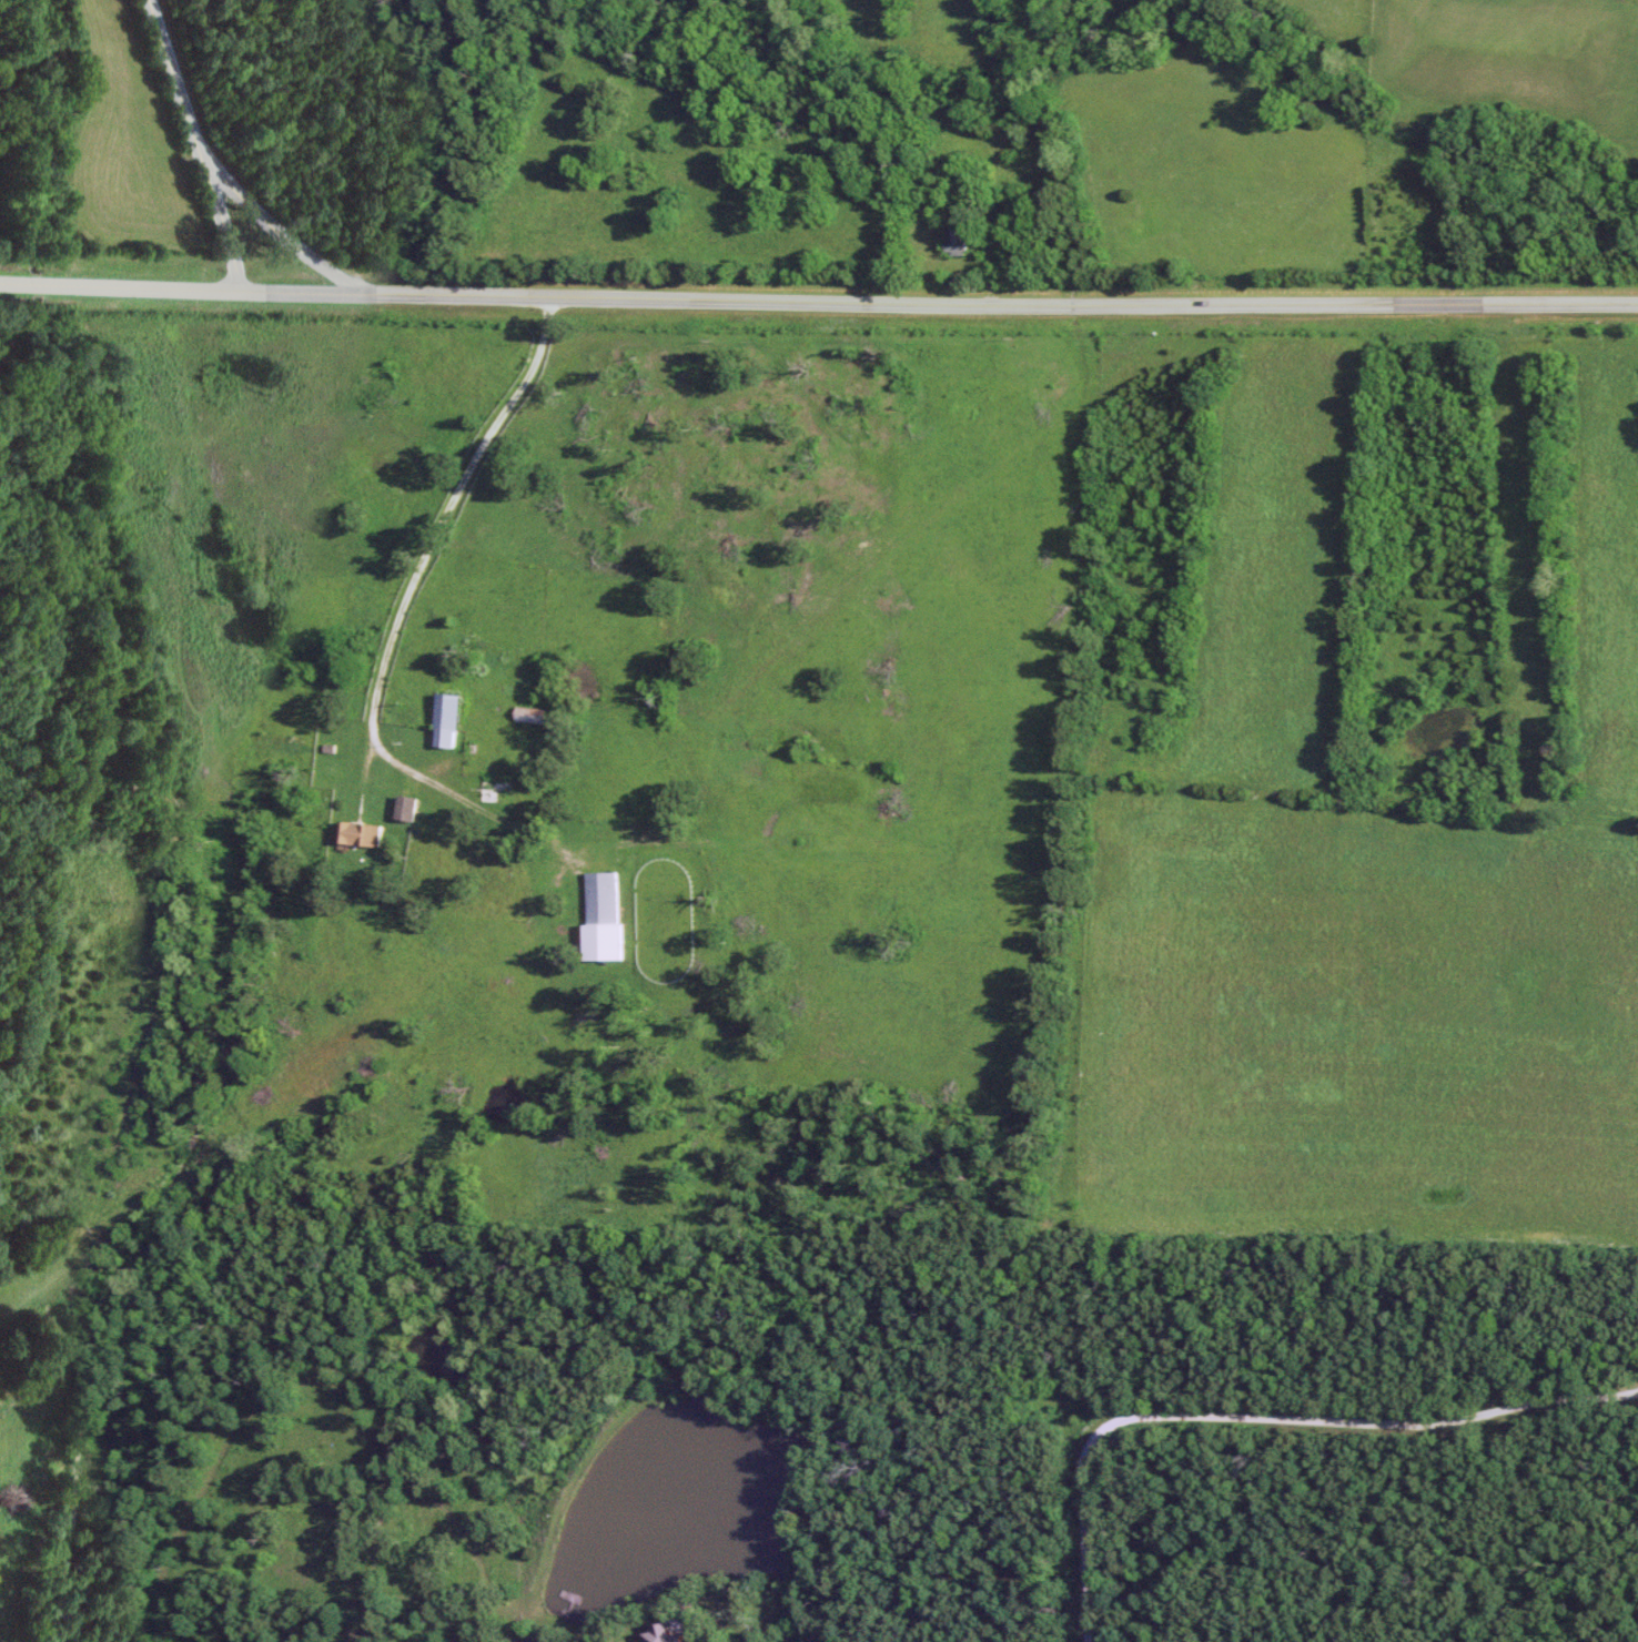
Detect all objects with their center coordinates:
road: (198, 144)
road: (276, 231)
building: (959, 242)
road: (818, 303)
road: (445, 517)
building: (535, 716)
building: (451, 720)
building: (410, 808)
building: (363, 834)
building: (606, 916)
road: (1261, 1419)
building: (539, 1640)

